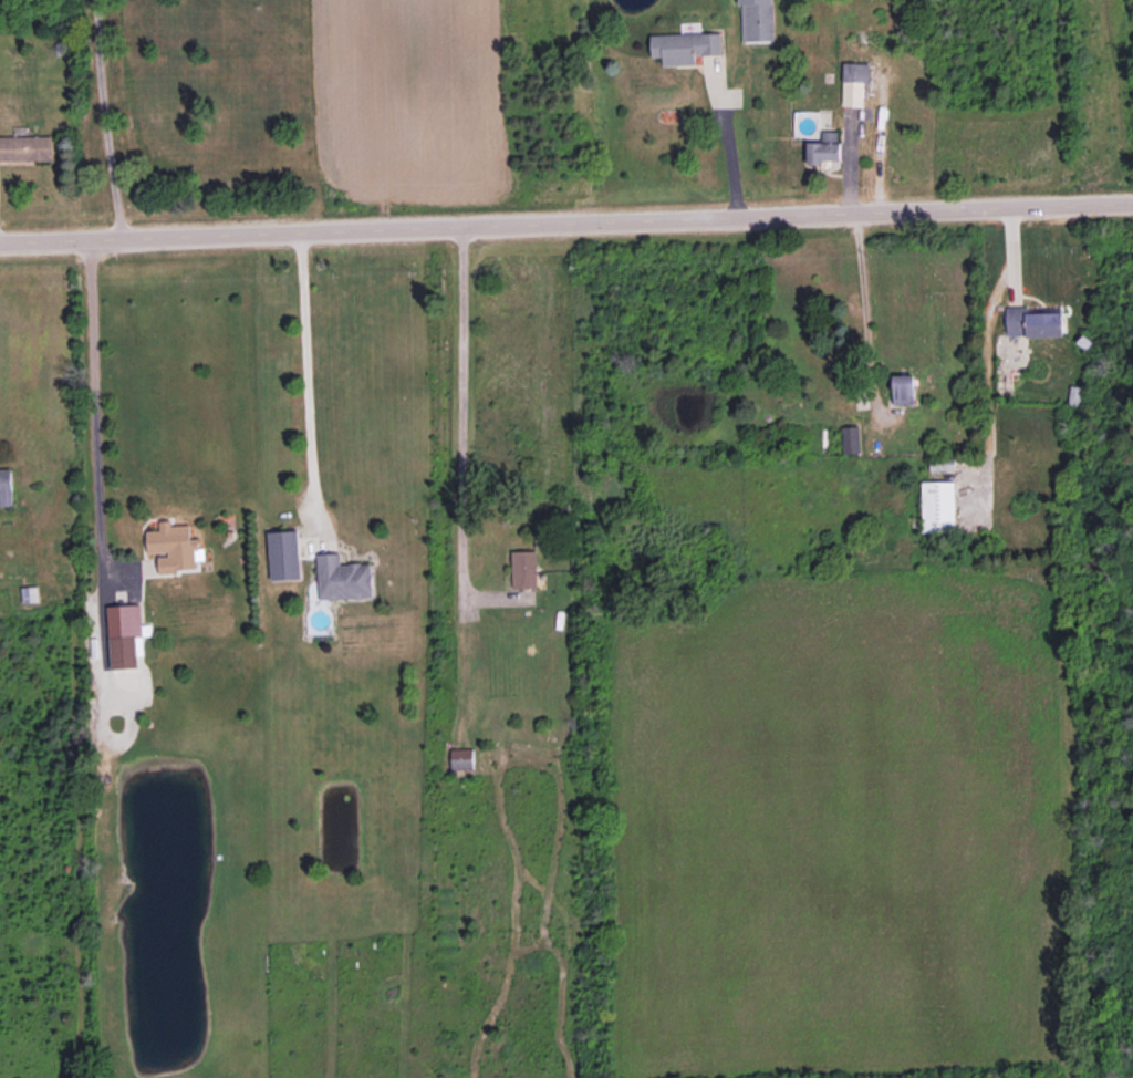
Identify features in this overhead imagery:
building: (757, 20)
building: (684, 46)
building: (854, 82)
road: (103, 118)
road: (724, 144)
building: (25, 147)
building: (824, 148)
road: (565, 220)
road: (862, 309)
building: (1035, 321)
road: (305, 371)
building: (903, 388)
road: (92, 395)
road: (460, 419)
building: (851, 438)
building: (6, 486)
building: (938, 506)
building: (174, 547)
building: (283, 554)
building: (523, 568)
building: (343, 578)
building: (125, 635)
building: (461, 758)

